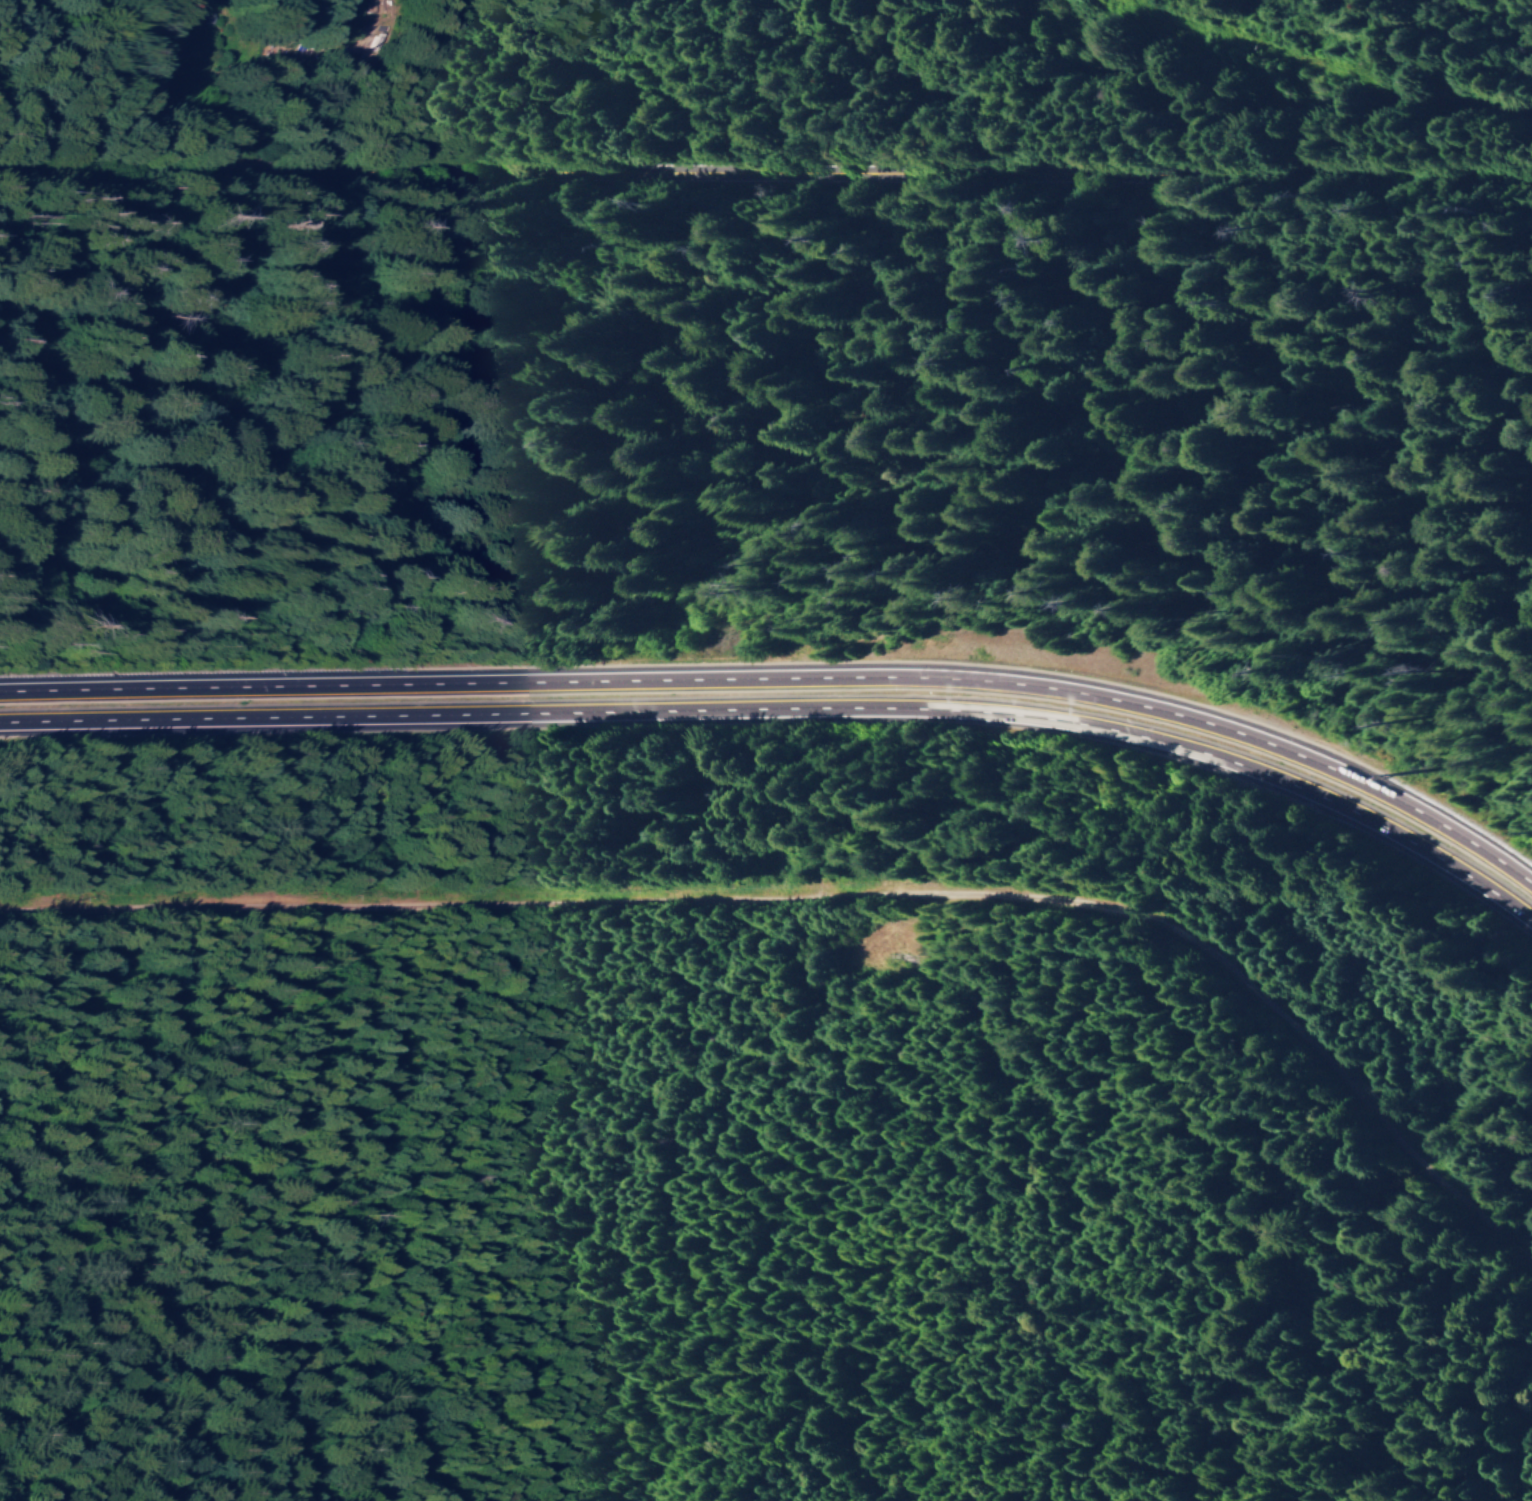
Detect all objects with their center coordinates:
road: (1221, 76)
road: (765, 182)
road: (788, 684)
road: (789, 716)
road: (833, 917)

